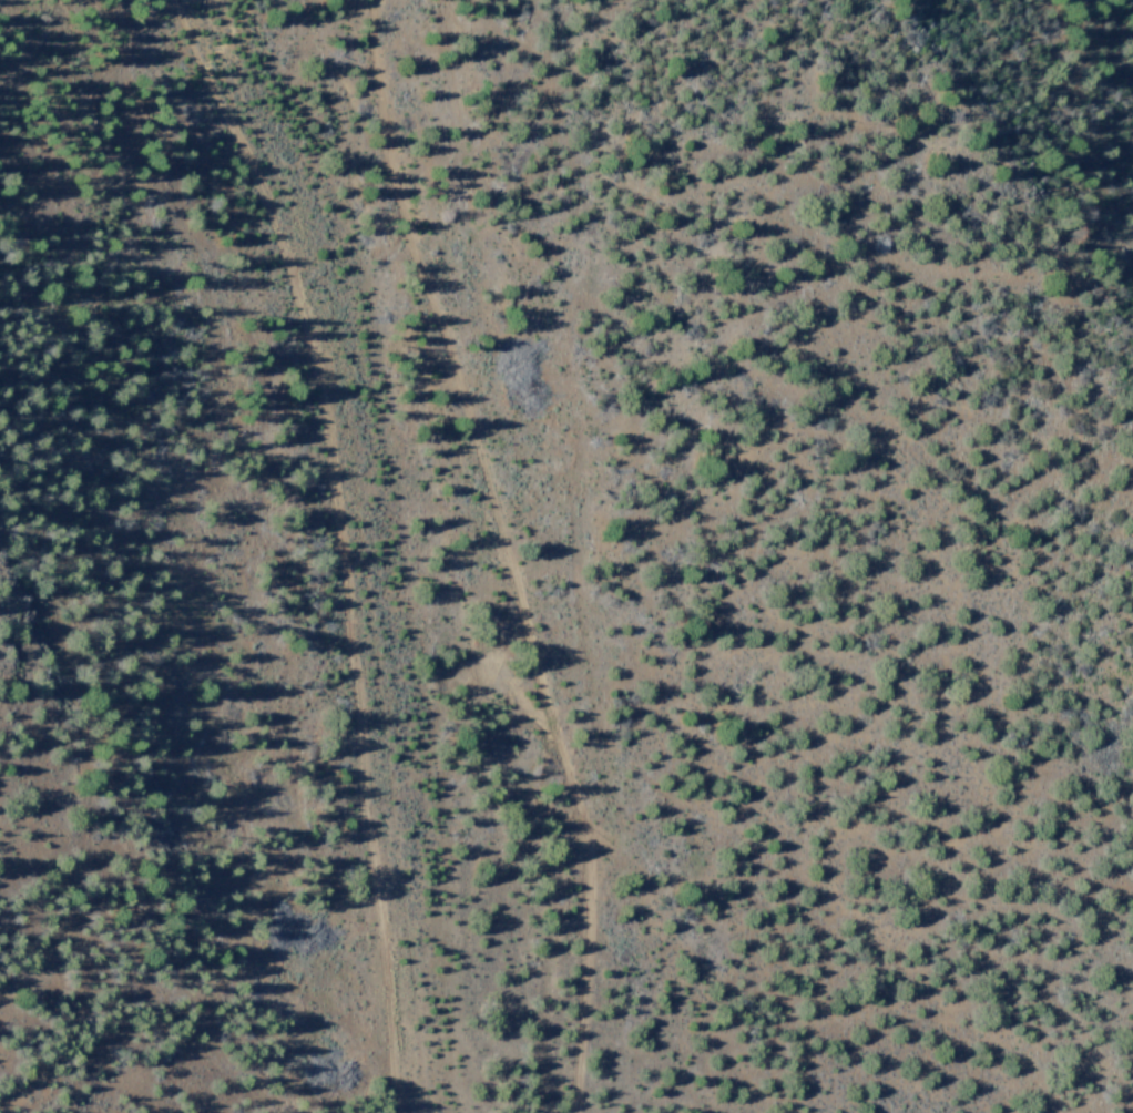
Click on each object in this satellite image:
road: (341, 543)
road: (507, 552)

